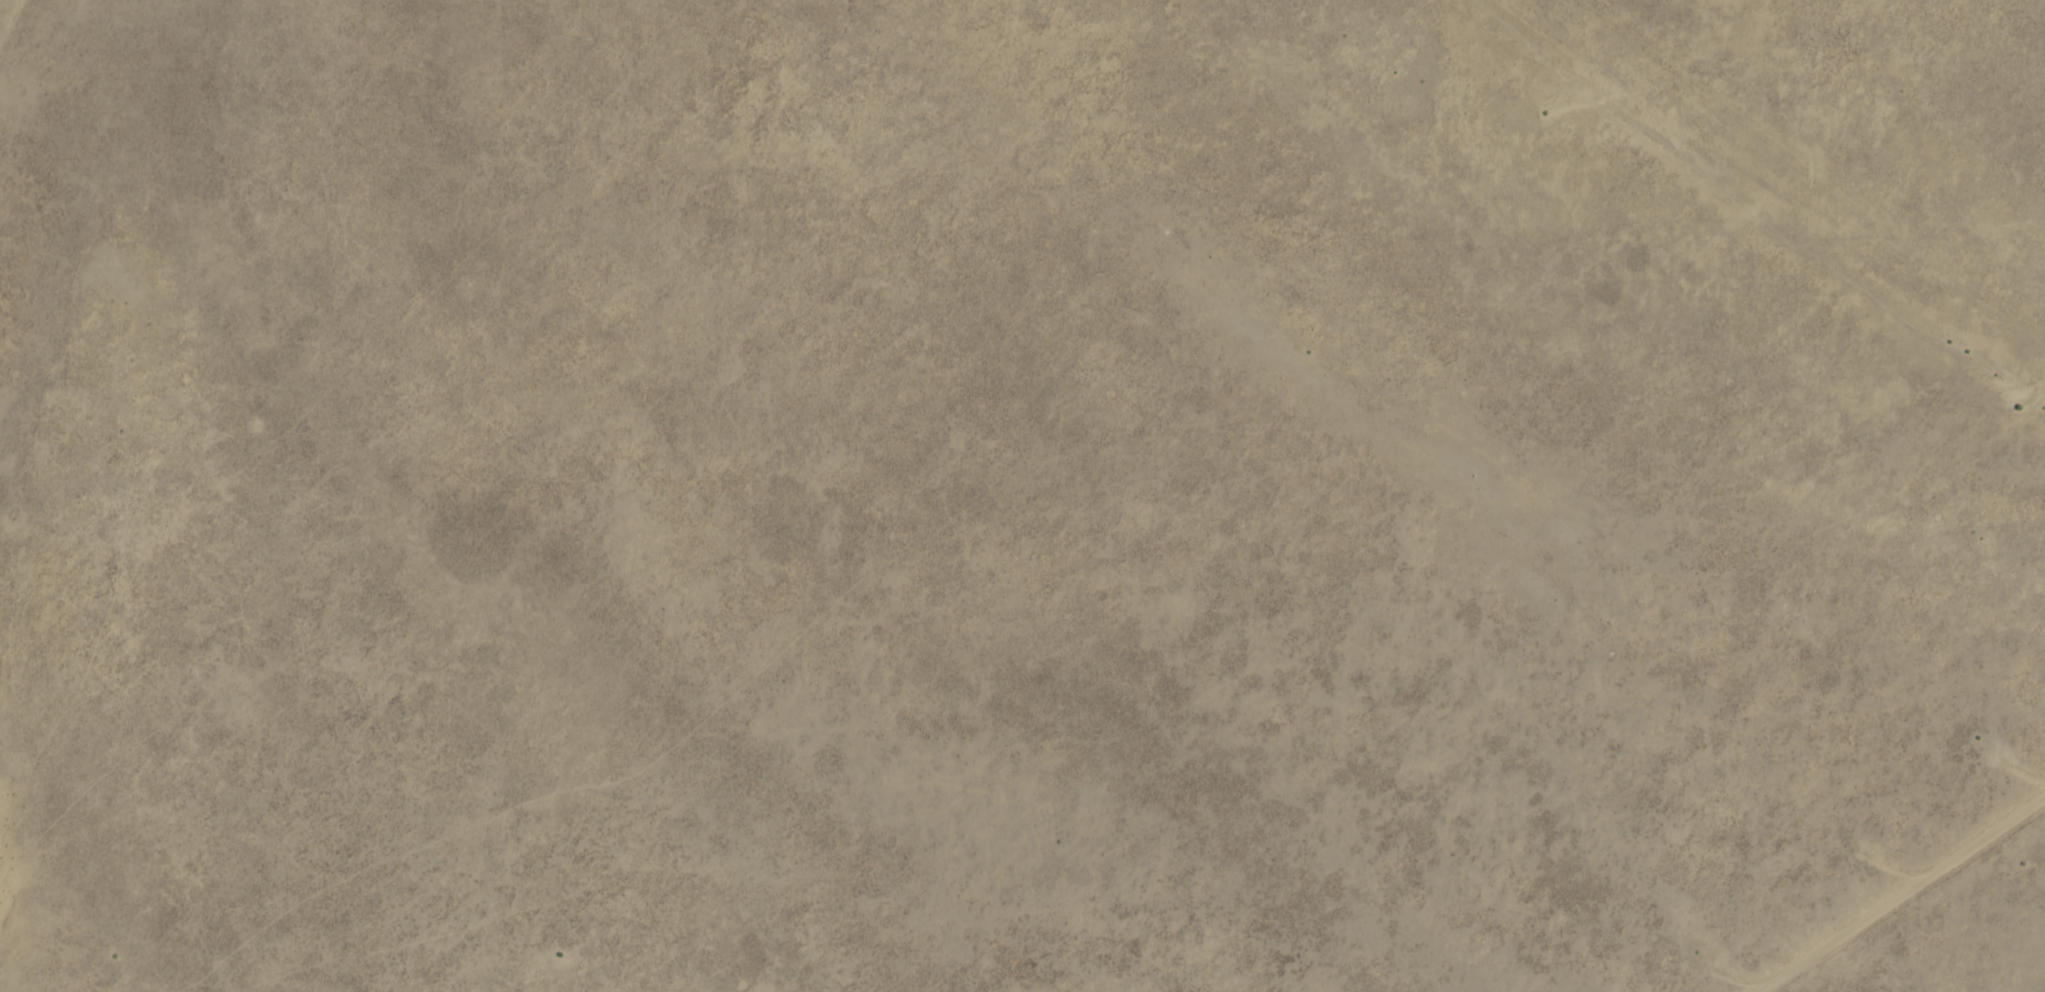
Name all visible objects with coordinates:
road: (1166, 490)
road: (1897, 876)

